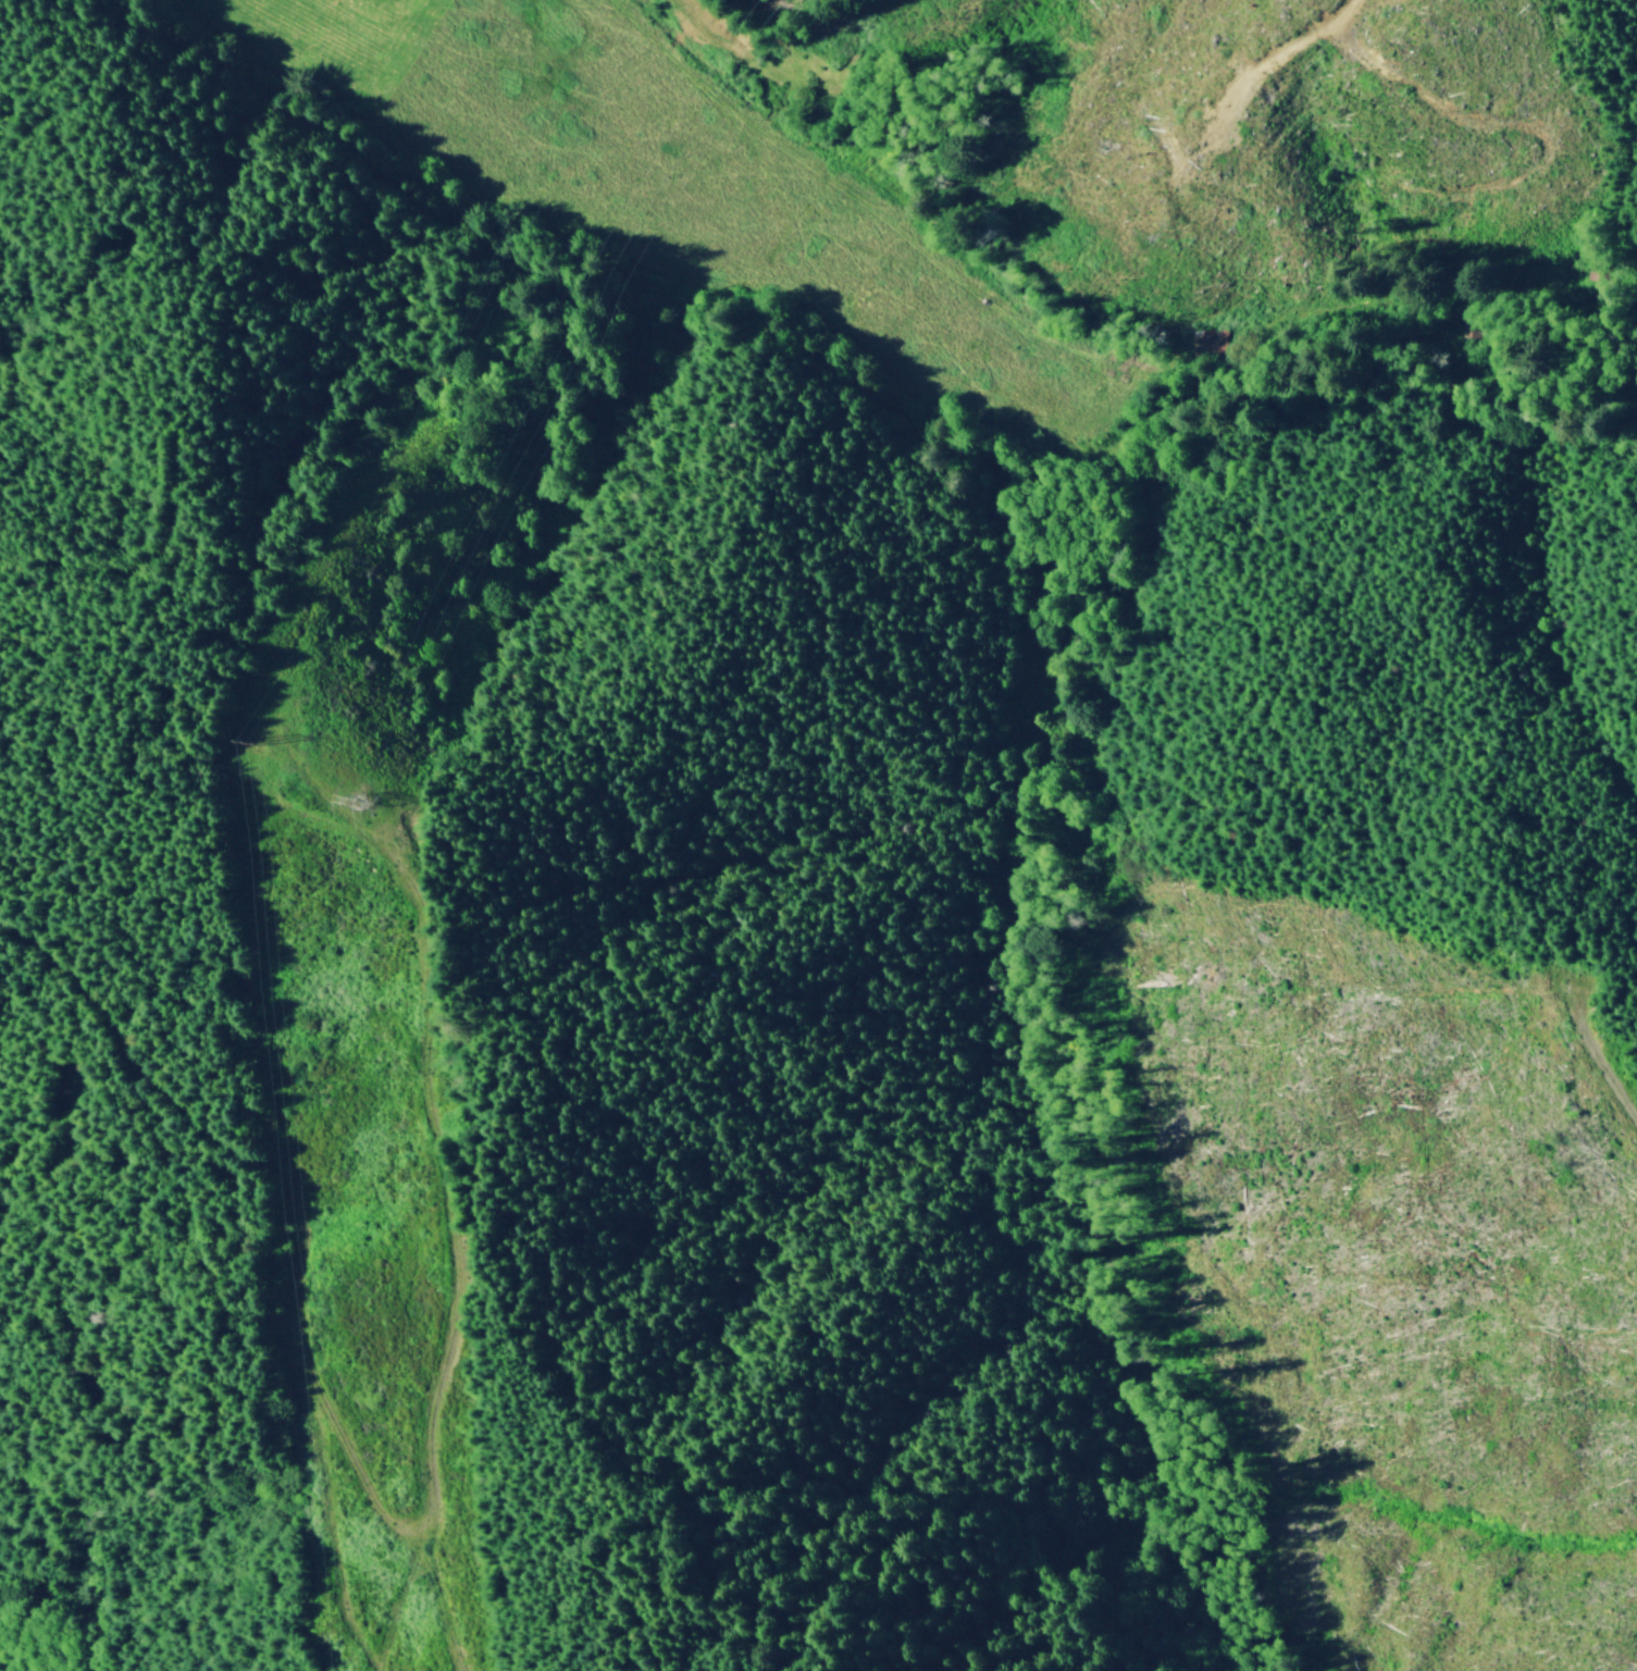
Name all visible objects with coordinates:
power tower: (255, 737)
power tower: (350, 802)

